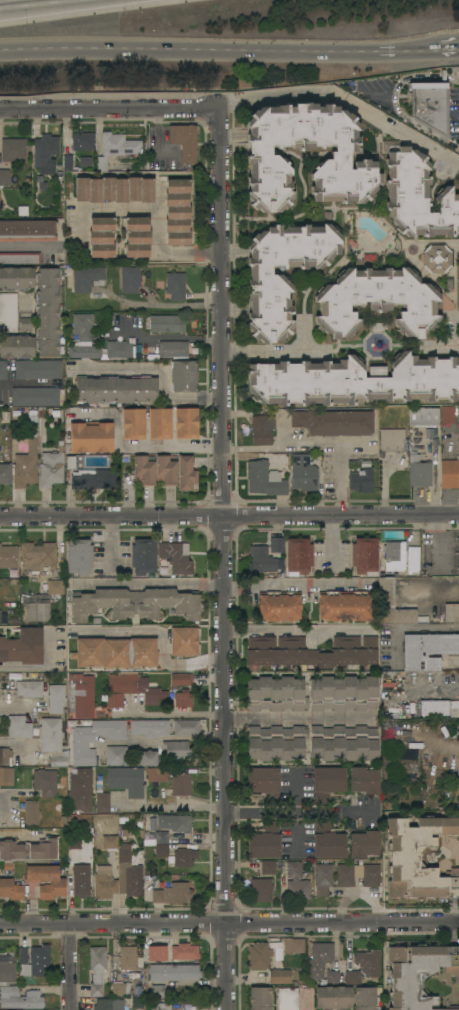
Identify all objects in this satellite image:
road: (443, 47)
road: (187, 50)
road: (401, 50)
road: (345, 101)
road: (394, 101)
building: (430, 105)
road: (109, 109)
building: (82, 141)
building: (184, 141)
building: (117, 145)
building: (13, 150)
building: (45, 153)
building: (262, 157)
building: (67, 163)
building: (4, 177)
building: (114, 190)
building: (416, 195)
road: (155, 208)
building: (177, 212)
building: (27, 230)
building: (136, 237)
building: (101, 238)
road: (27, 248)
building: (20, 258)
building: (436, 259)
building: (16, 278)
building: (86, 278)
building: (130, 279)
building: (268, 283)
building: (458, 283)
building: (175, 286)
building: (376, 301)
road: (170, 305)
building: (7, 312)
building: (47, 312)
building: (25, 323)
building: (166, 324)
building: (82, 326)
road: (455, 327)
road: (304, 335)
road: (166, 338)
building: (16, 346)
road: (444, 346)
building: (118, 349)
building: (173, 349)
building: (83, 350)
road: (275, 351)
building: (37, 369)
building: (3, 370)
road: (158, 373)
building: (183, 376)
road: (28, 381)
building: (354, 381)
building: (115, 389)
building: (35, 397)
building: (447, 414)
building: (423, 416)
building: (333, 422)
building: (186, 423)
building: (133, 424)
building: (159, 424)
building: (262, 429)
building: (90, 438)
building: (391, 440)
road: (171, 446)
road: (314, 449)
building: (70, 462)
building: (25, 466)
building: (51, 468)
building: (143, 471)
building: (165, 471)
building: (418, 471)
building: (303, 473)
building: (449, 473)
building: (5, 474)
building: (185, 474)
building: (92, 479)
building: (264, 479)
building: (362, 481)
road: (229, 515)
building: (276, 544)
building: (38, 556)
building: (143, 556)
building: (175, 556)
building: (298, 556)
building: (364, 556)
building: (394, 556)
building: (8, 557)
building: (79, 557)
building: (412, 558)
road: (222, 559)
building: (260, 560)
road: (148, 583)
road: (293, 585)
building: (40, 601)
building: (134, 603)
building: (392, 605)
building: (279, 606)
building: (345, 606)
building: (451, 613)
building: (2, 618)
building: (13, 621)
road: (429, 628)
road: (296, 629)
road: (164, 636)
building: (184, 641)
building: (23, 646)
building: (427, 650)
building: (311, 652)
building: (115, 653)
road: (42, 666)
building: (180, 679)
road: (433, 685)
building: (29, 689)
building: (130, 690)
building: (342, 693)
building: (275, 694)
building: (80, 695)
building: (182, 698)
building: (56, 699)
road: (16, 708)
building: (439, 708)
road: (170, 715)
road: (299, 717)
building: (18, 726)
building: (186, 727)
building: (150, 728)
building: (389, 728)
building: (50, 735)
building: (92, 738)
road: (19, 742)
building: (275, 742)
building: (343, 743)
building: (176, 750)
building: (5, 755)
building: (116, 756)
building: (148, 758)
building: (58, 762)
building: (156, 775)
building: (6, 777)
building: (363, 780)
building: (126, 781)
building: (45, 782)
building: (264, 783)
building: (327, 783)
building: (178, 786)
building: (79, 790)
road: (296, 792)
road: (7, 798)
building: (102, 803)
road: (172, 803)
building: (458, 804)
road: (303, 812)
building: (31, 813)
building: (174, 822)
building: (161, 837)
building: (109, 839)
building: (327, 841)
building: (264, 842)
building: (364, 844)
building: (161, 850)
building: (74, 855)
building: (183, 857)
building: (423, 857)
building: (7, 866)
building: (267, 867)
building: (128, 873)
building: (357, 875)
building: (323, 878)
building: (80, 880)
building: (296, 882)
building: (57, 883)
building: (104, 883)
building: (11, 890)
building: (261, 890)
building: (171, 894)
road: (229, 922)
building: (293, 945)
building: (184, 952)
building: (156, 953)
building: (22, 955)
building: (258, 955)
building: (127, 958)
building: (319, 959)
building: (39, 961)
building: (368, 962)
road: (69, 966)
building: (7, 969)
building: (96, 970)
building: (173, 972)
building: (417, 973)
building: (279, 976)
building: (332, 976)
building: (352, 978)
building: (120, 990)
building: (156, 992)
building: (333, 997)
building: (19, 998)
building: (259, 998)
building: (364, 998)
building: (287, 999)
building: (137, 1002)
building: (108, 1004)
building: (159, 1006)
building: (448, 1009)

